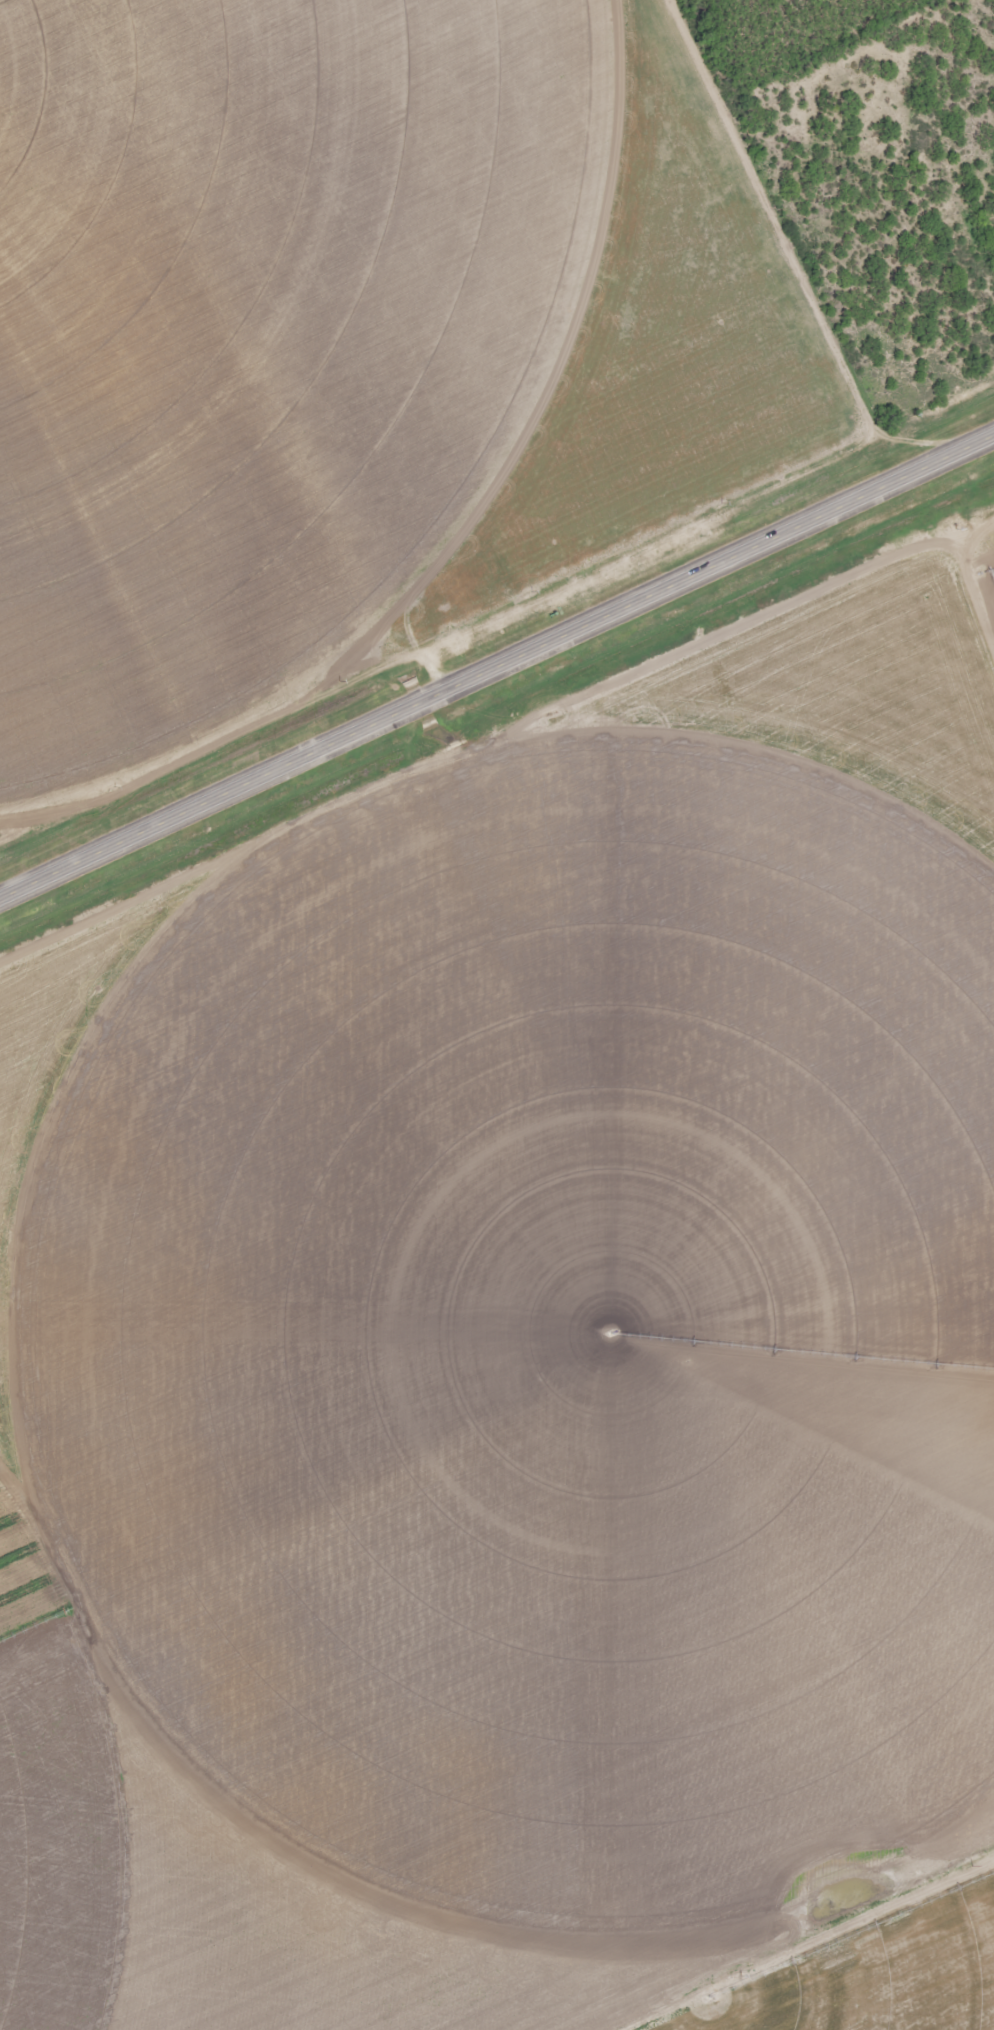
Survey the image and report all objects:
road: (495, 666)

